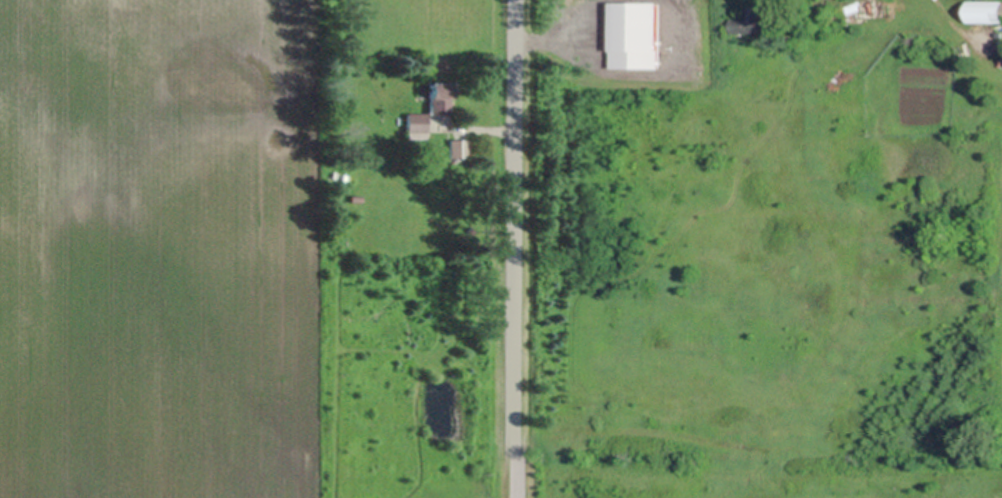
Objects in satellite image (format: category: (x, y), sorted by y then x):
building: (985, 11)
building: (791, 17)
building: (744, 22)
building: (634, 34)
building: (744, 36)
building: (423, 90)
building: (438, 98)
building: (416, 125)
building: (460, 147)
building: (327, 168)
building: (336, 170)
building: (326, 179)
building: (353, 197)
road: (517, 249)
building: (445, 365)

